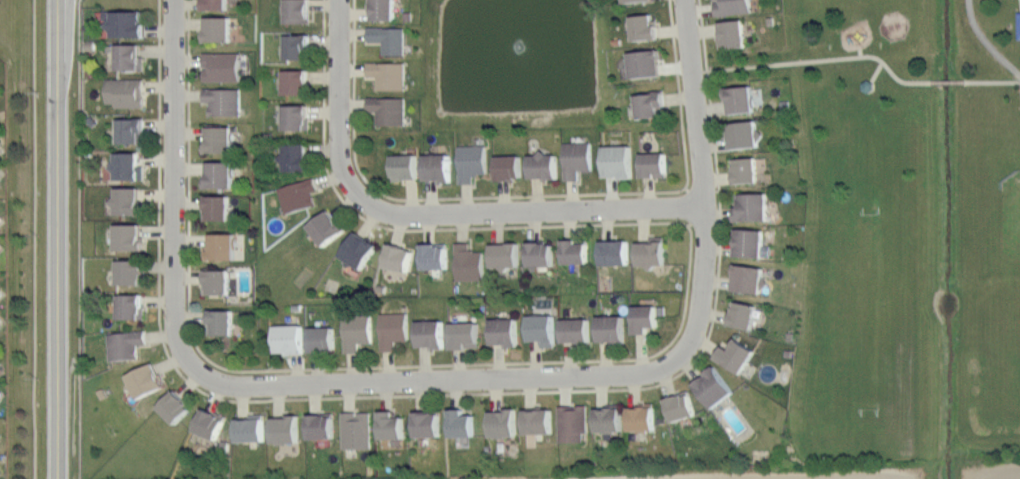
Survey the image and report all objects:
building: (635, 1)
building: (215, 4)
building: (732, 7)
building: (384, 10)
building: (298, 11)
building: (128, 23)
building: (645, 26)
building: (218, 29)
building: (732, 34)
building: (390, 38)
road: (986, 42)
building: (296, 45)
road: (861, 53)
building: (130, 57)
road: (816, 60)
building: (645, 63)
building: (222, 66)
road: (877, 71)
building: (389, 74)
building: (295, 81)
road: (948, 82)
road: (992, 82)
building: (868, 85)
building: (125, 91)
building: (740, 99)
building: (223, 100)
building: (651, 104)
building: (389, 109)
building: (1019, 109)
building: (297, 116)
building: (130, 129)
building: (744, 134)
building: (219, 138)
building: (0, 143)
building: (295, 156)
building: (577, 158)
building: (618, 161)
building: (471, 162)
building: (653, 164)
building: (128, 166)
building: (405, 166)
building: (438, 166)
building: (509, 166)
building: (544, 166)
road: (701, 168)
building: (746, 168)
building: (220, 174)
building: (0, 180)
road: (173, 193)
building: (298, 194)
road: (525, 195)
building: (127, 200)
building: (218, 206)
building: (753, 206)
road: (428, 215)
building: (0, 216)
building: (326, 228)
park: (913, 229)
building: (129, 237)
road: (34, 239)
road: (55, 239)
road: (79, 239)
park: (1009, 240)
building: (751, 244)
building: (222, 246)
building: (359, 249)
building: (0, 251)
building: (576, 251)
building: (614, 252)
building: (652, 252)
building: (541, 253)
building: (504, 254)
building: (435, 256)
building: (398, 257)
building: (469, 263)
building: (131, 272)
building: (748, 278)
building: (217, 281)
building: (0, 288)
building: (131, 305)
building: (743, 314)
building: (645, 317)
park: (875, 317)
building: (222, 321)
building: (0, 325)
building: (612, 328)
building: (394, 329)
building: (542, 329)
building: (575, 329)
building: (357, 331)
building: (506, 331)
building: (432, 333)
building: (464, 335)
building: (290, 338)
building: (322, 338)
building: (126, 343)
building: (736, 356)
road: (598, 359)
building: (0, 361)
road: (455, 380)
building: (146, 381)
building: (714, 386)
road: (431, 394)
building: (0, 398)
building: (680, 406)
building: (175, 407)
building: (642, 416)
building: (609, 418)
building: (538, 421)
building: (573, 421)
building: (210, 422)
building: (503, 422)
building: (427, 423)
building: (462, 423)
building: (321, 425)
building: (391, 425)
building: (252, 428)
building: (285, 429)
building: (356, 430)
building: (0, 435)
crop: (793, 471)
building: (1, 473)

